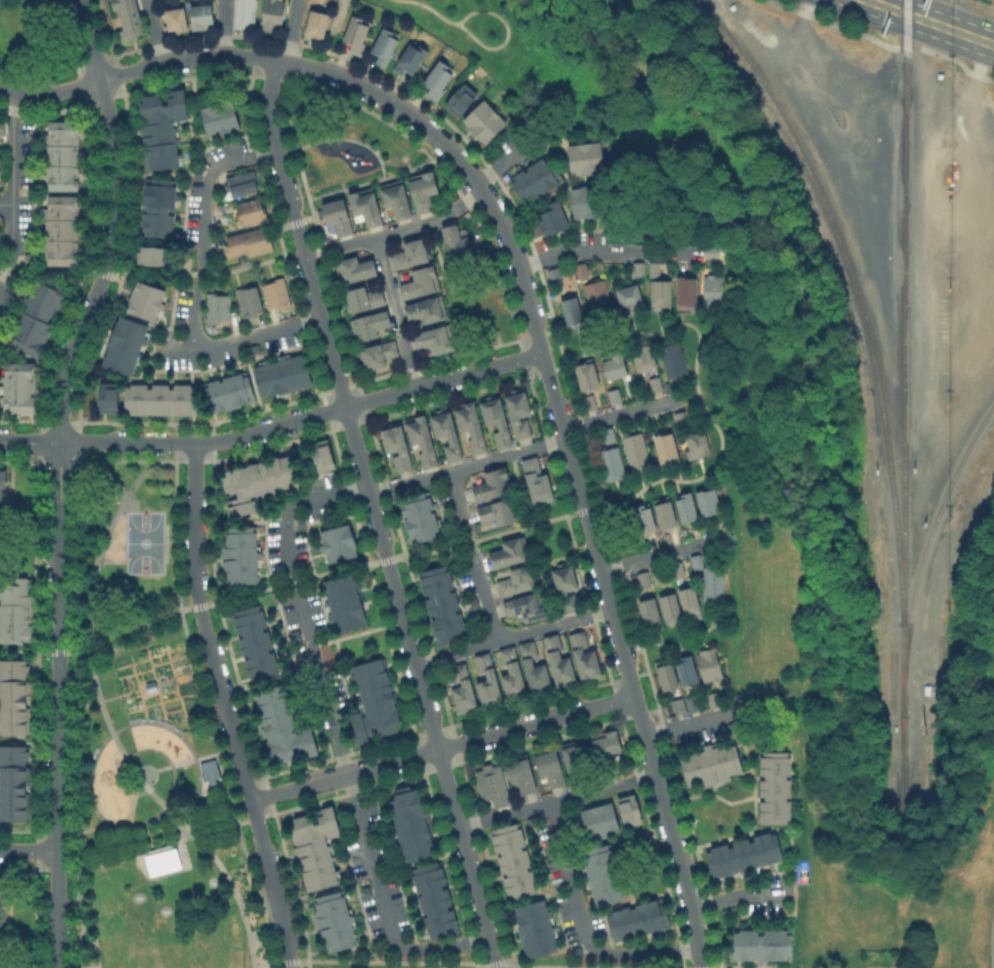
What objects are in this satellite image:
road: (428, 7)
building: (245, 12)
building: (272, 13)
building: (199, 16)
building: (129, 18)
building: (174, 19)
building: (316, 19)
road: (933, 21)
road: (221, 27)
road: (290, 30)
road: (155, 31)
building: (358, 32)
road: (106, 33)
road: (328, 33)
road: (506, 33)
building: (386, 43)
road: (880, 43)
building: (409, 56)
road: (72, 68)
building: (438, 74)
road: (409, 91)
road: (49, 93)
building: (458, 98)
road: (391, 101)
building: (217, 117)
building: (482, 119)
building: (159, 126)
building: (2, 128)
park: (344, 137)
road: (324, 138)
park: (2, 146)
road: (6, 150)
road: (286, 152)
building: (60, 154)
building: (584, 157)
road: (504, 162)
building: (1, 164)
building: (533, 177)
building: (243, 182)
road: (12, 188)
building: (423, 188)
building: (396, 196)
building: (579, 200)
road: (6, 204)
building: (366, 204)
building: (156, 206)
building: (251, 211)
building: (337, 213)
building: (549, 217)
road: (112, 223)
road: (203, 225)
building: (59, 228)
road: (396, 230)
building: (456, 237)
building: (1, 238)
building: (248, 240)
building: (714, 248)
building: (411, 250)
road: (606, 250)
building: (150, 254)
road: (258, 263)
building: (356, 266)
building: (640, 268)
building: (652, 268)
building: (581, 269)
building: (554, 274)
building: (421, 280)
building: (661, 286)
building: (689, 289)
building: (715, 289)
building: (598, 292)
building: (276, 293)
building: (631, 293)
building: (364, 295)
building: (143, 299)
building: (248, 299)
railway: (858, 300)
building: (217, 305)
building: (426, 306)
building: (572, 307)
road: (396, 312)
building: (35, 316)
railway: (903, 320)
building: (372, 321)
building: (436, 336)
road: (242, 339)
building: (123, 344)
building: (380, 352)
building: (645, 355)
building: (673, 356)
building: (616, 364)
building: (280, 371)
building: (588, 373)
building: (657, 384)
building: (16, 385)
building: (229, 388)
building: (105, 395)
building: (615, 395)
building: (158, 397)
road: (688, 400)
building: (590, 401)
building: (520, 412)
road: (620, 414)
building: (680, 417)
road: (304, 418)
building: (497, 419)
building: (472, 425)
building: (447, 432)
building: (608, 435)
building: (422, 438)
building: (697, 440)
road: (30, 442)
building: (397, 445)
building: (665, 446)
building: (636, 452)
building: (320, 454)
building: (609, 461)
road: (99, 462)
road: (467, 465)
building: (538, 480)
building: (255, 481)
building: (1, 482)
building: (494, 482)
building: (707, 500)
building: (685, 506)
building: (498, 510)
road: (374, 512)
building: (664, 512)
building: (421, 517)
building: (644, 517)
road: (510, 530)
building: (715, 537)
park: (143, 541)
building: (336, 541)
building: (511, 550)
railway: (924, 550)
building: (239, 553)
road: (473, 554)
road: (651, 556)
building: (696, 561)
building: (678, 570)
building: (658, 576)
building: (518, 579)
building: (644, 579)
building: (713, 584)
building: (567, 587)
building: (345, 600)
building: (689, 601)
building: (444, 602)
building: (526, 605)
building: (669, 606)
building: (14, 608)
building: (649, 613)
road: (512, 634)
building: (253, 641)
building: (585, 656)
road: (625, 660)
building: (560, 661)
building: (708, 664)
building: (535, 666)
building: (686, 671)
building: (513, 673)
building: (666, 676)
building: (488, 679)
building: (149, 685)
building: (463, 689)
building: (375, 694)
building: (14, 695)
building: (714, 699)
building: (693, 703)
road: (58, 705)
road: (79, 705)
building: (679, 706)
road: (225, 707)
road: (704, 719)
road: (108, 720)
building: (280, 725)
railway: (901, 731)
road: (335, 735)
park: (150, 742)
road: (442, 745)
building: (607, 749)
road: (192, 759)
building: (576, 760)
building: (709, 762)
building: (551, 767)
building: (208, 769)
building: (522, 772)
building: (14, 781)
building: (773, 785)
building: (493, 786)
road: (558, 800)
road: (94, 808)
building: (627, 808)
building: (598, 819)
building: (408, 822)
road: (83, 831)
building: (314, 846)
road: (157, 847)
road: (28, 850)
building: (741, 852)
building: (512, 859)
building: (161, 861)
building: (600, 874)
road: (738, 894)
building: (432, 898)
building: (636, 918)
building: (333, 919)
building: (534, 926)
road: (584, 928)
building: (758, 943)
road: (485, 965)
road: (495, 966)
road: (750, 966)

